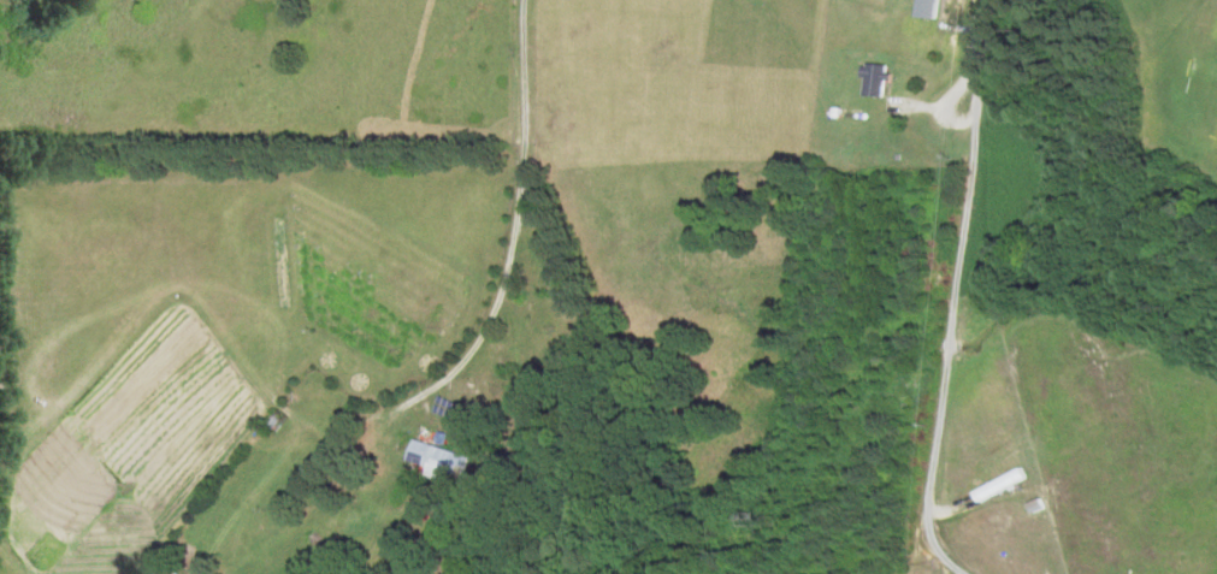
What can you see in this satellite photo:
road: (968, 53)
building: (874, 79)
road: (500, 288)
road: (952, 342)
building: (438, 460)
building: (164, 569)

